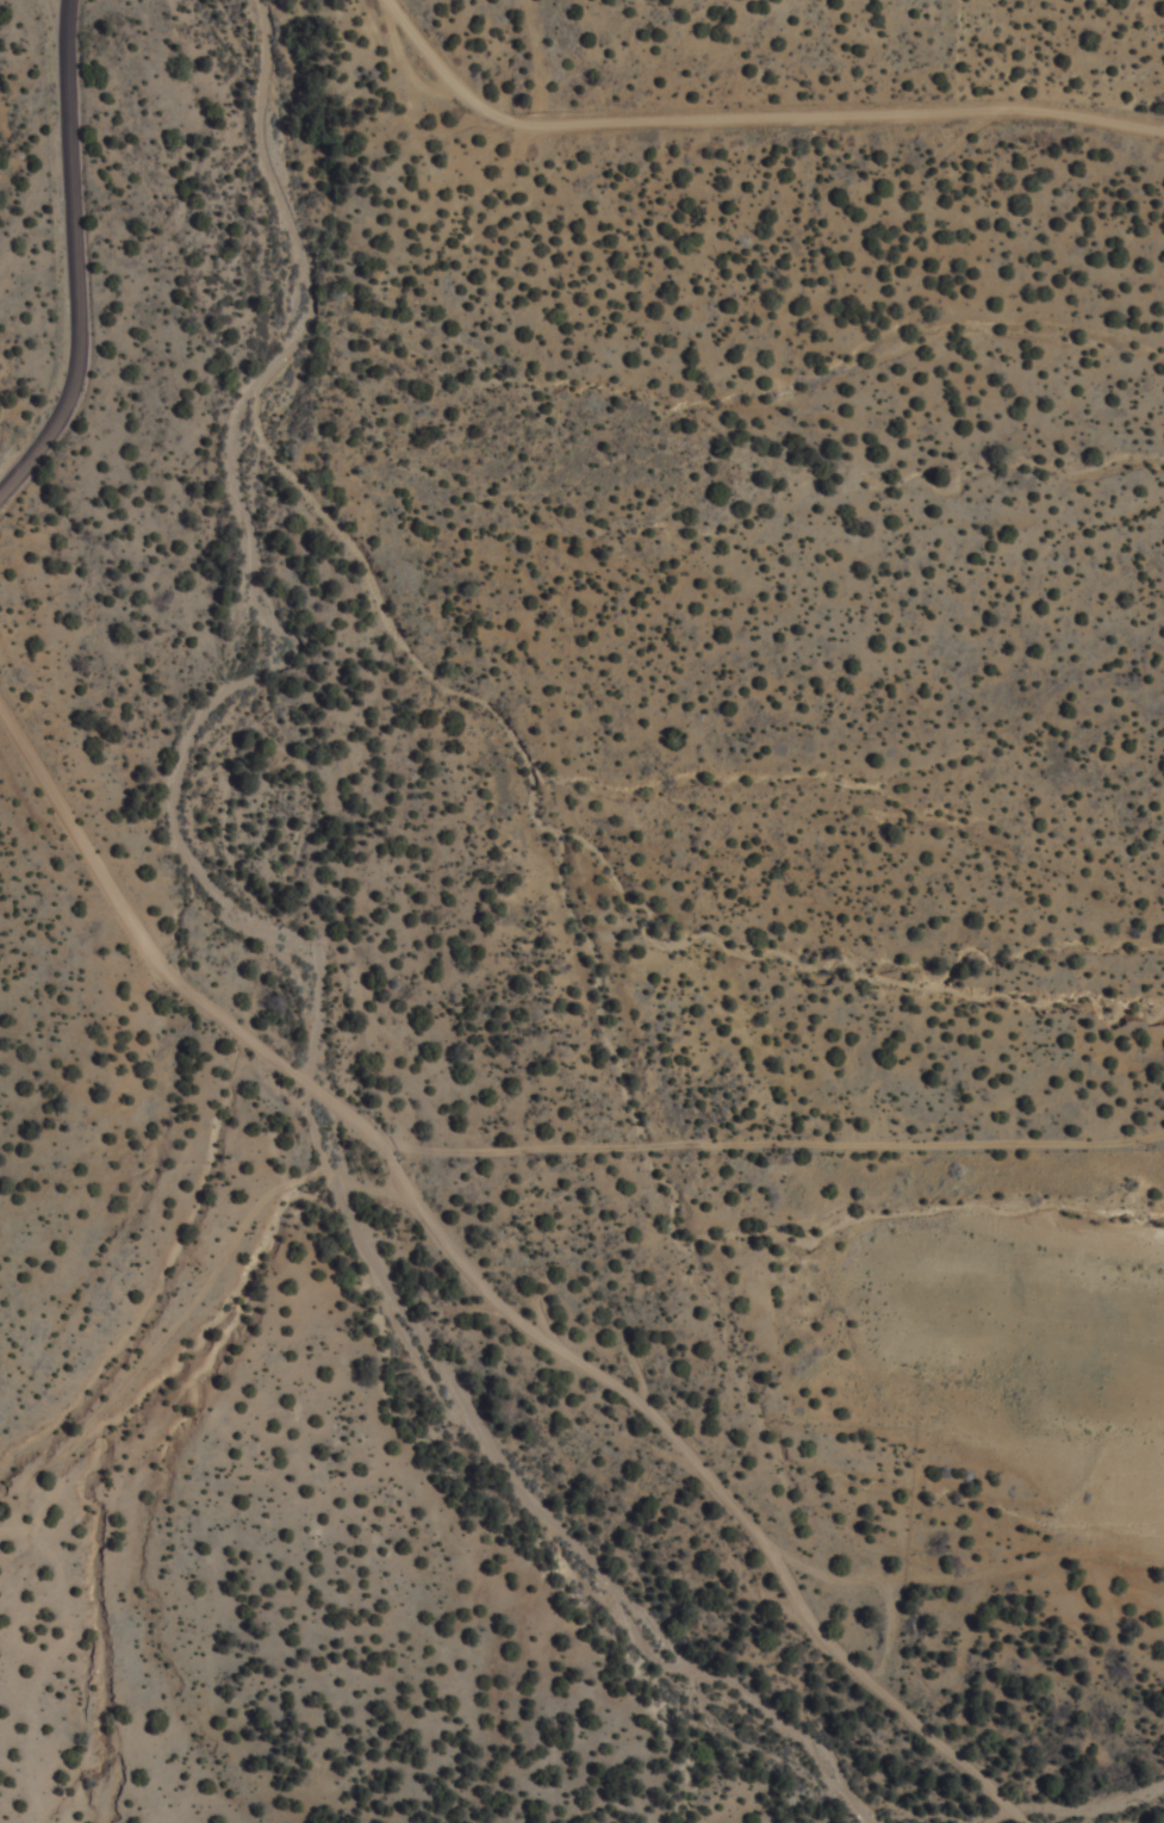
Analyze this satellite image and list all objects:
road: (75, 257)
road: (487, 1278)
road: (963, 1580)
road: (1085, 1803)

